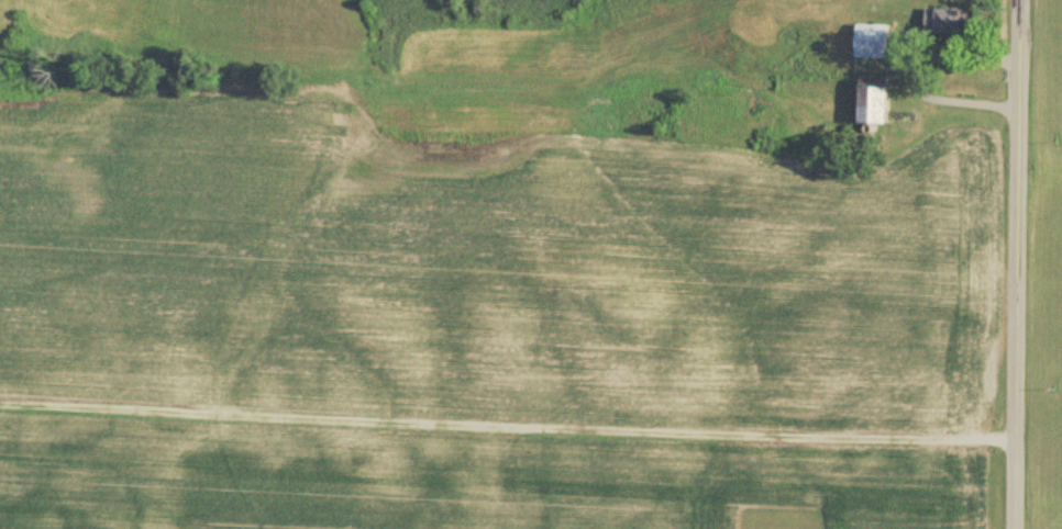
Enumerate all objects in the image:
building: (951, 22)
building: (877, 42)
building: (880, 101)
road: (1018, 264)

